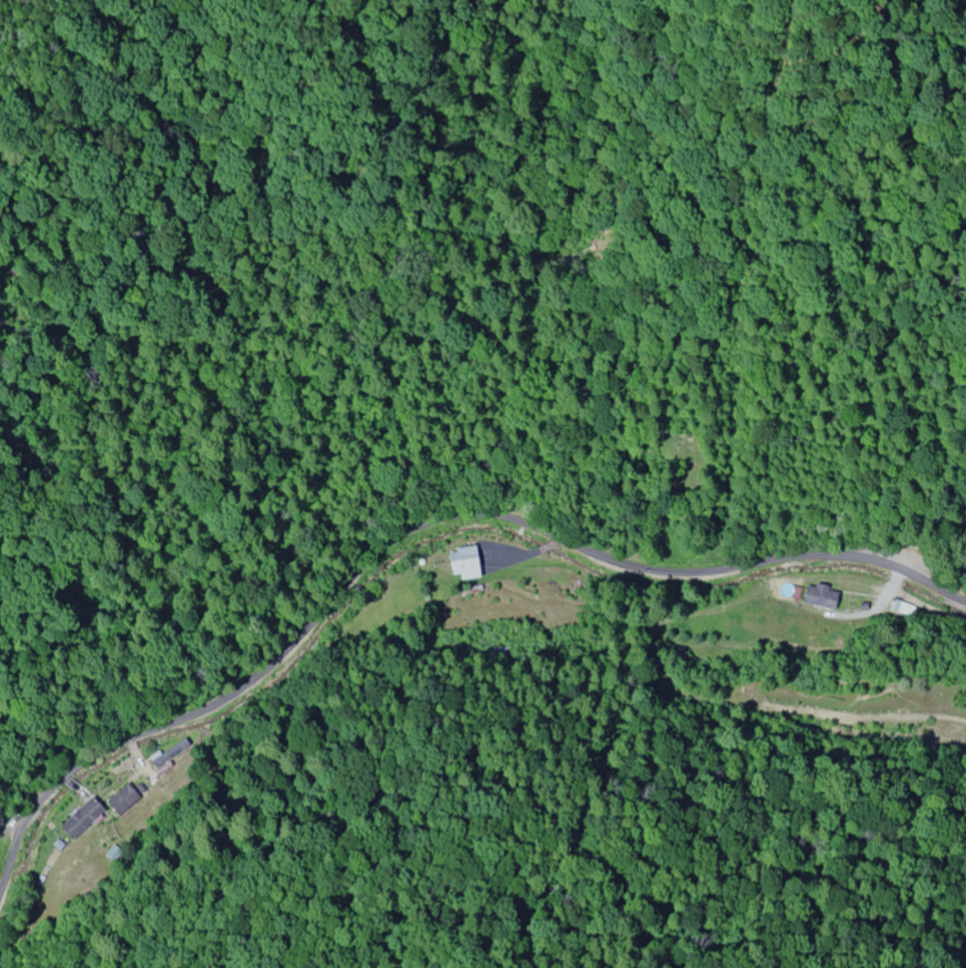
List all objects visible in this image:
building: (463, 562)
road: (442, 565)
building: (820, 596)
building: (886, 599)
building: (83, 819)

